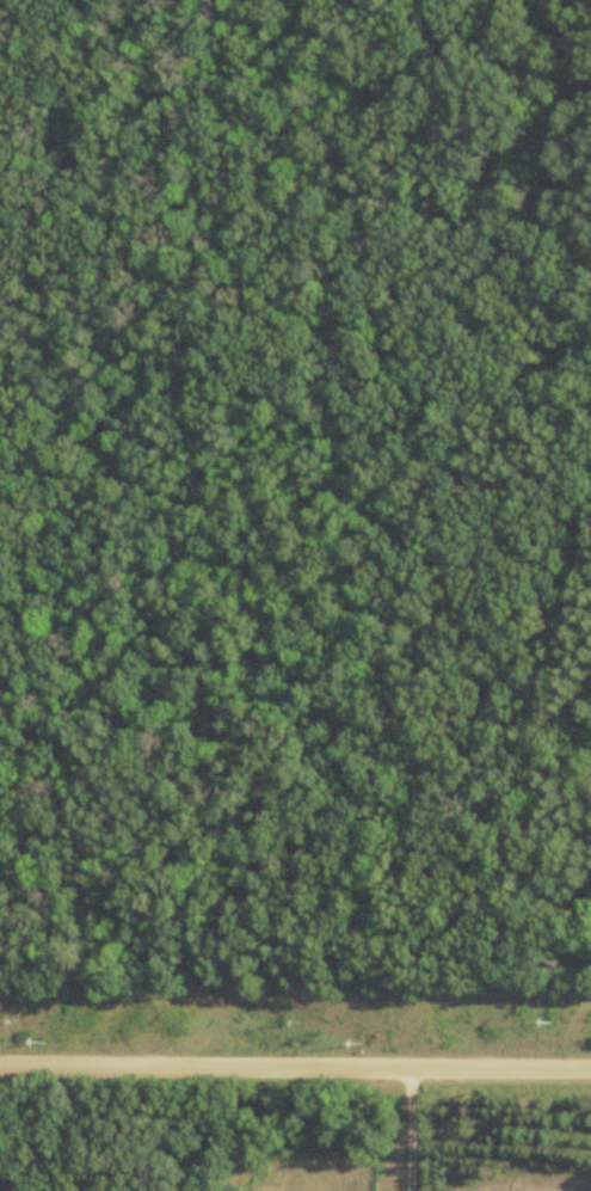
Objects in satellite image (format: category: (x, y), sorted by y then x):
road: (295, 1066)
road: (407, 1128)
building: (6, 1186)

